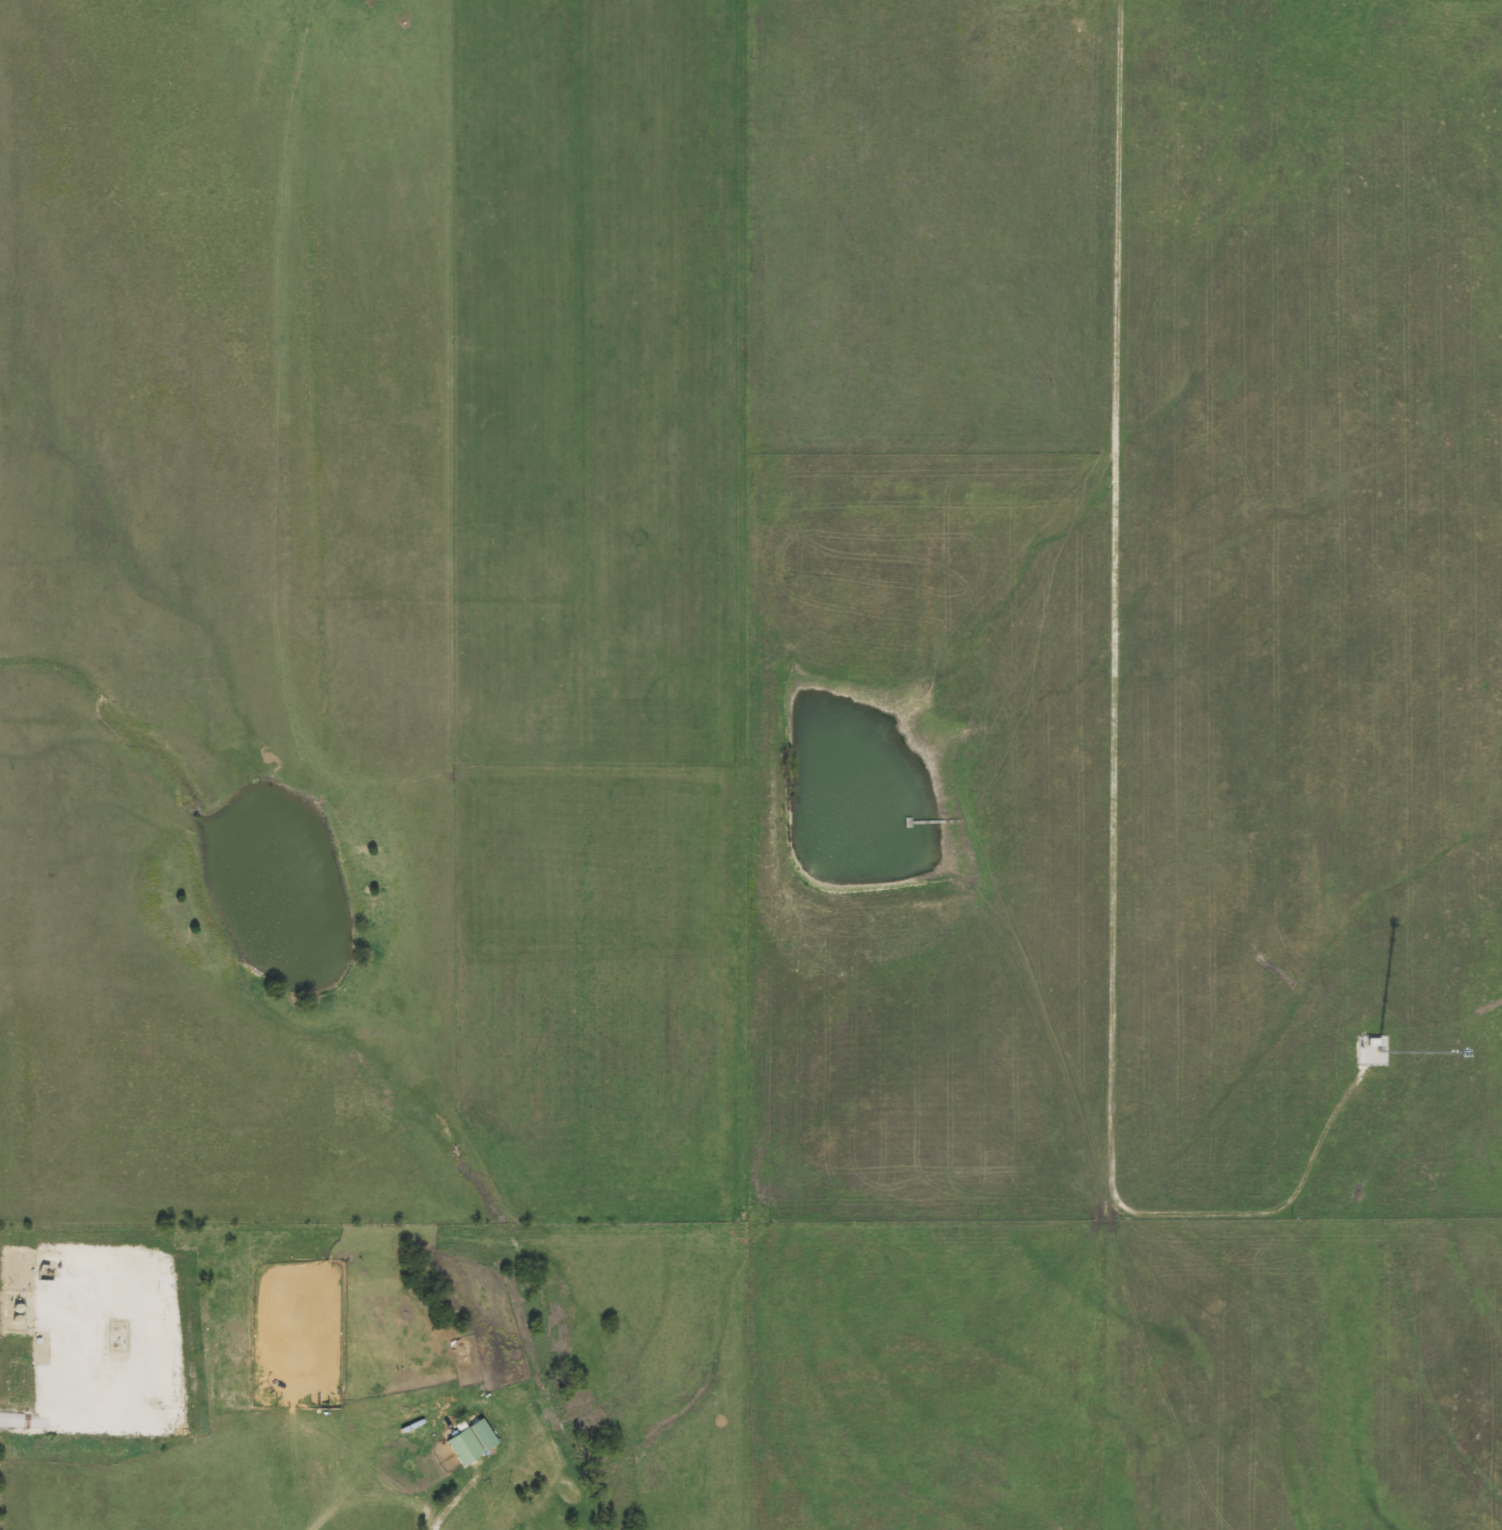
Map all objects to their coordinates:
road: (1114, 761)
building: (1375, 1043)
building: (475, 1442)

